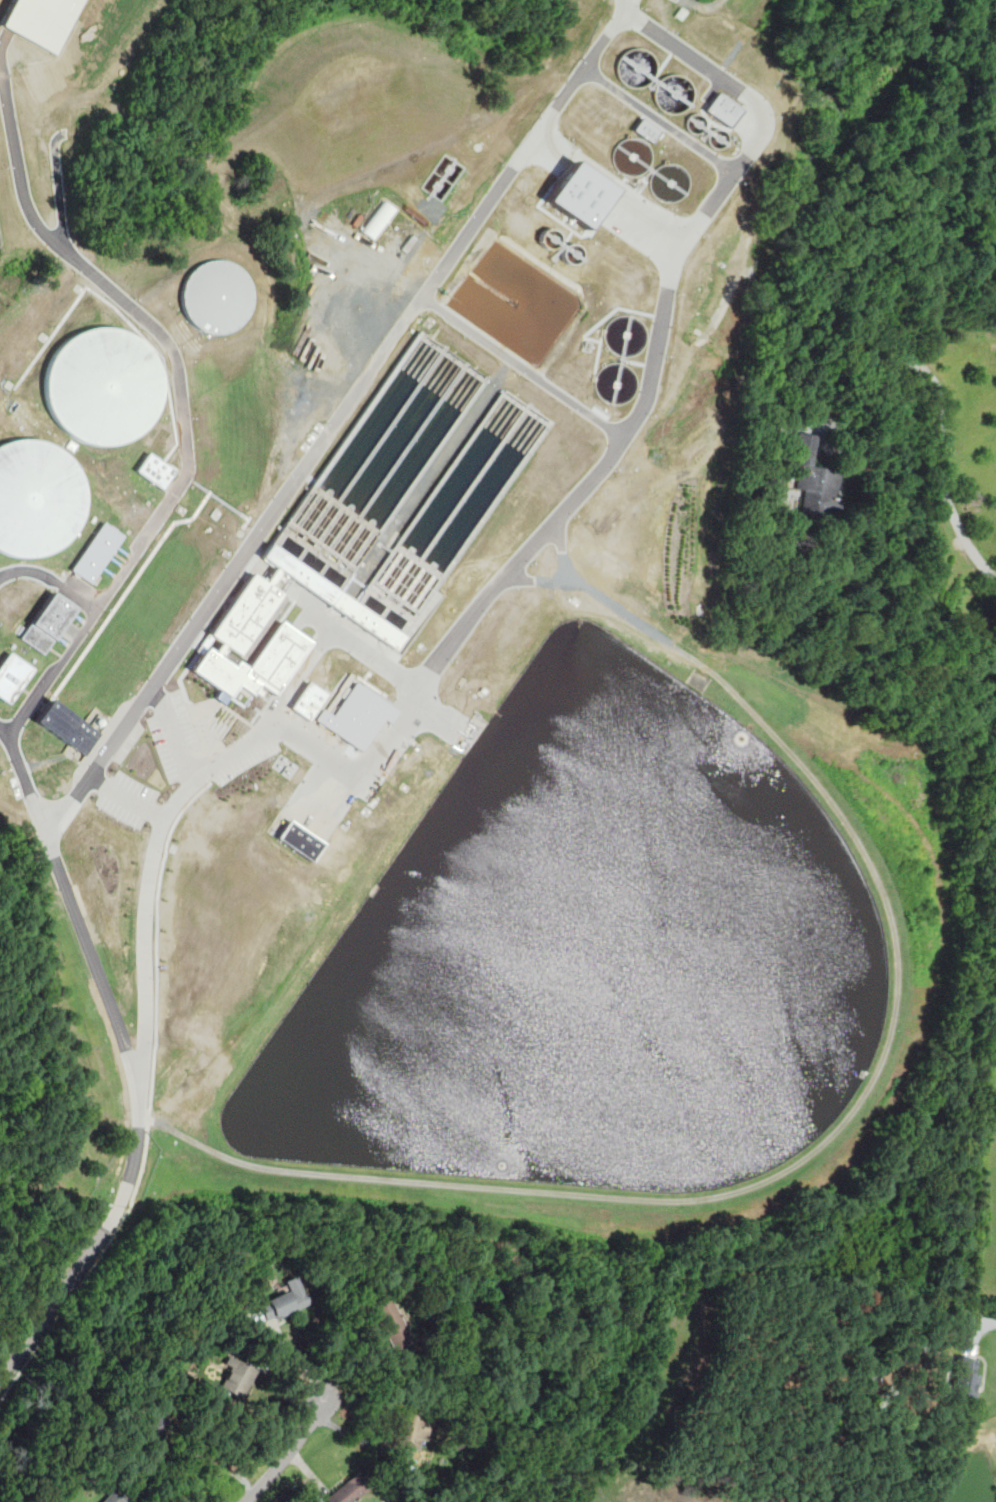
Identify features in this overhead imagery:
road: (623, 4)
building: (634, 67)
storage tank: (634, 67)
road: (724, 75)
building: (673, 92)
storage tank: (673, 92)
building: (722, 109)
building: (695, 123)
storage tank: (695, 123)
building: (646, 130)
building: (717, 138)
storage tank: (717, 138)
building: (632, 158)
storage tank: (632, 158)
building: (669, 181)
storage tank: (669, 181)
building: (378, 219)
road: (692, 223)
building: (540, 275)
road: (98, 277)
building: (219, 298)
storage tank: (219, 298)
building: (627, 336)
storage tank: (627, 336)
building: (105, 385)
storage tank: (105, 385)
building: (617, 385)
storage tank: (617, 385)
road: (940, 409)
road: (341, 422)
road: (588, 428)
building: (381, 462)
building: (157, 469)
building: (812, 477)
building: (38, 498)
storage tank: (38, 498)
building: (456, 514)
building: (98, 552)
building: (304, 575)
road: (51, 578)
building: (249, 614)
building: (371, 621)
building: (50, 622)
road: (331, 638)
building: (12, 674)
building: (224, 676)
building: (310, 699)
building: (357, 715)
building: (69, 728)
road: (180, 743)
road: (7, 745)
road: (804, 770)
building: (301, 839)
building: (89, 841)
road: (81, 925)
building: (279, 1306)
road: (990, 1316)
building: (389, 1321)
building: (238, 1375)
building: (966, 1380)
building: (155, 1427)
building: (412, 1428)
road: (356, 1436)
road: (286, 1454)
road: (215, 1462)
building: (350, 1489)
building: (112, 1497)

